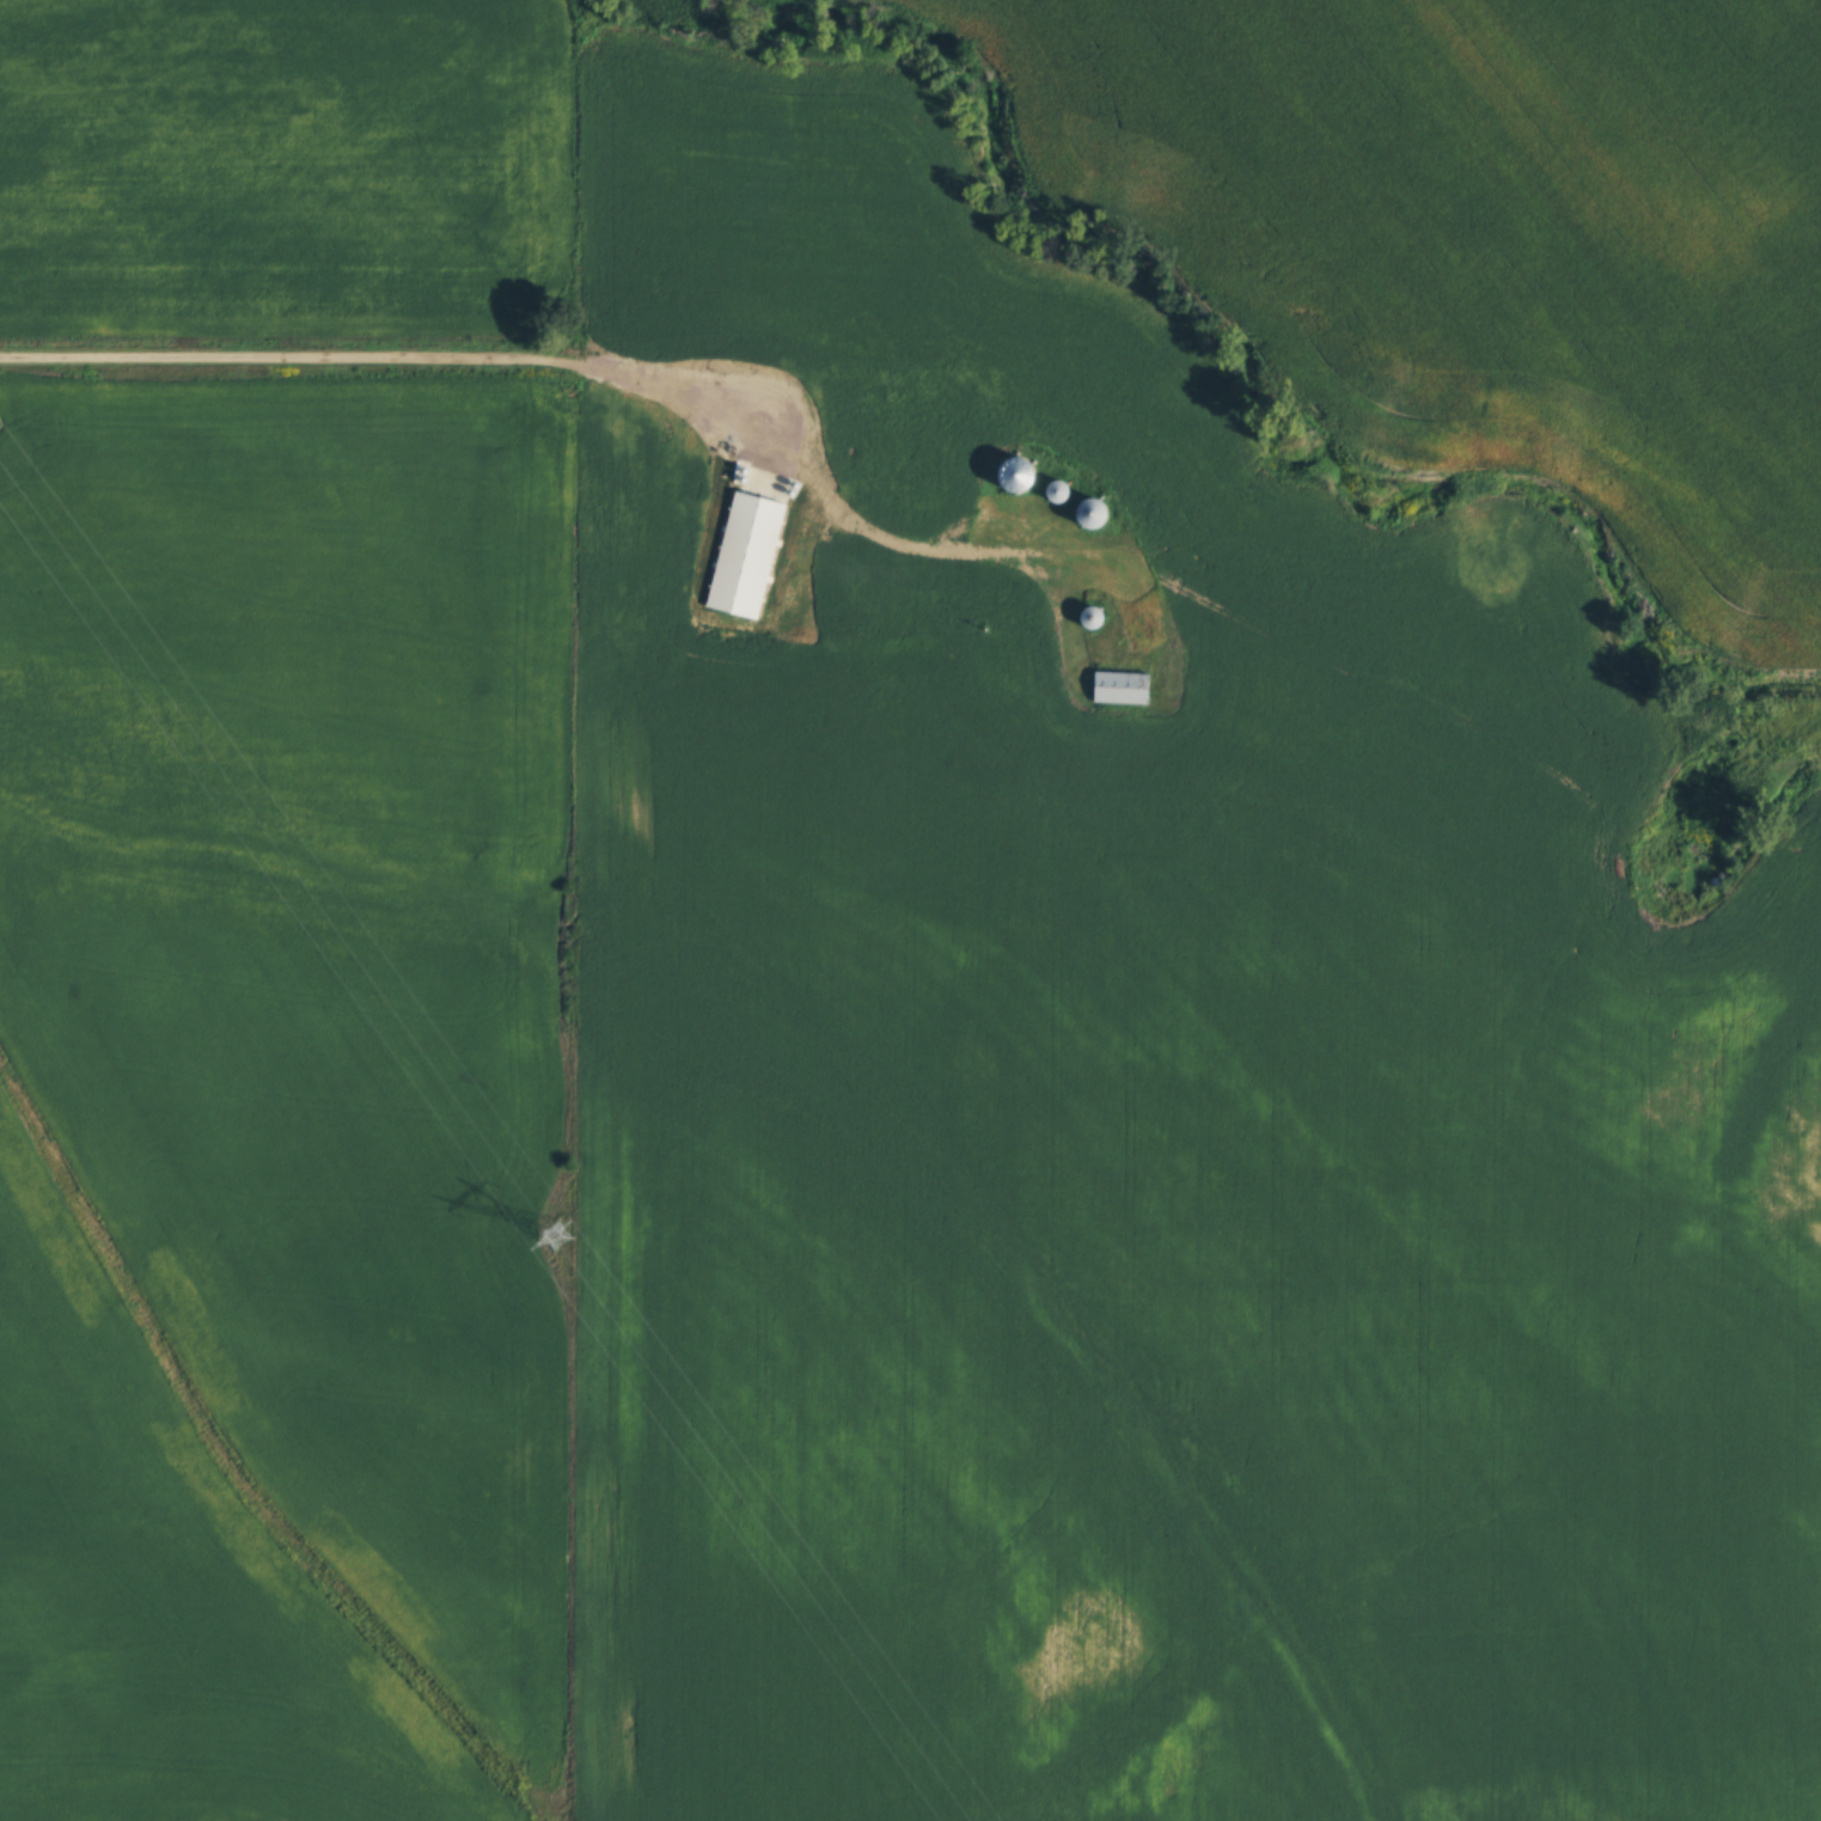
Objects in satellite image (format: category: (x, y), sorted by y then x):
road: (434, 360)
building: (1014, 470)
building: (1055, 489)
building: (1089, 511)
building: (1118, 684)
power tower: (573, 1240)

